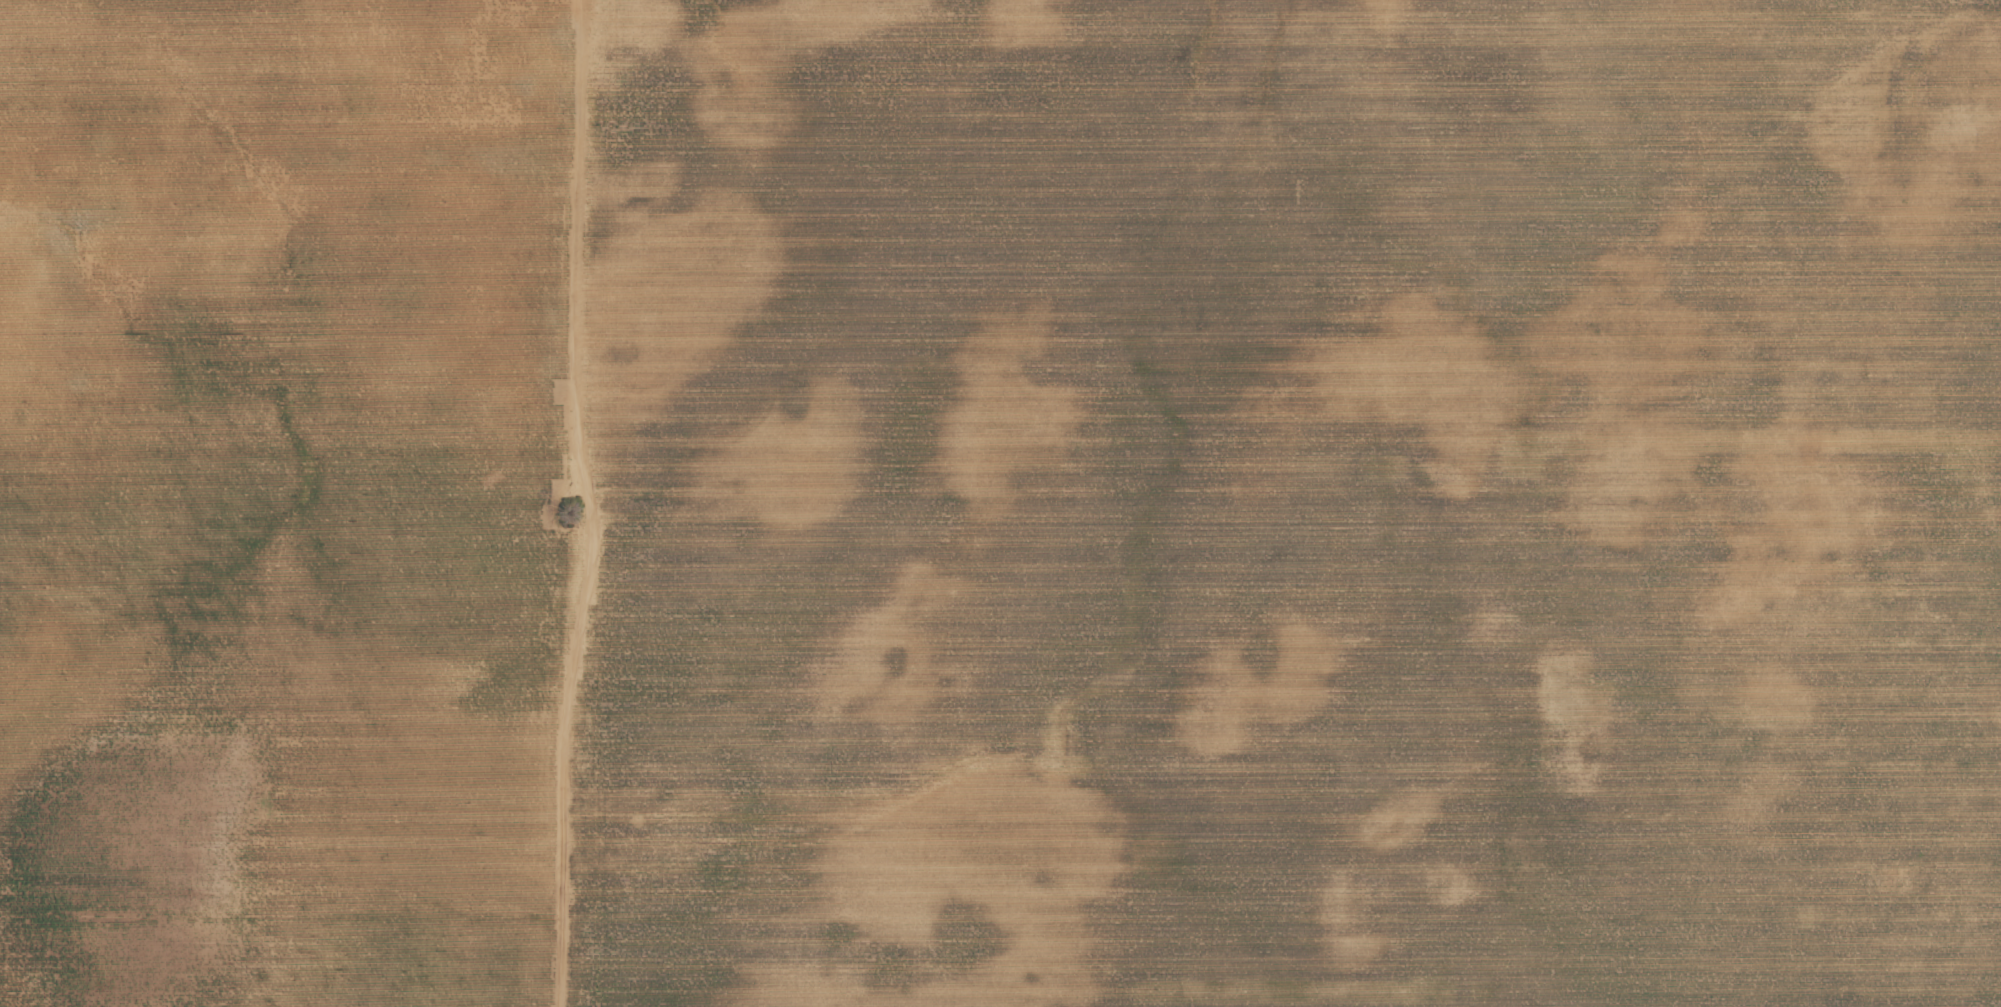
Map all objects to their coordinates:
road: (586, 503)

